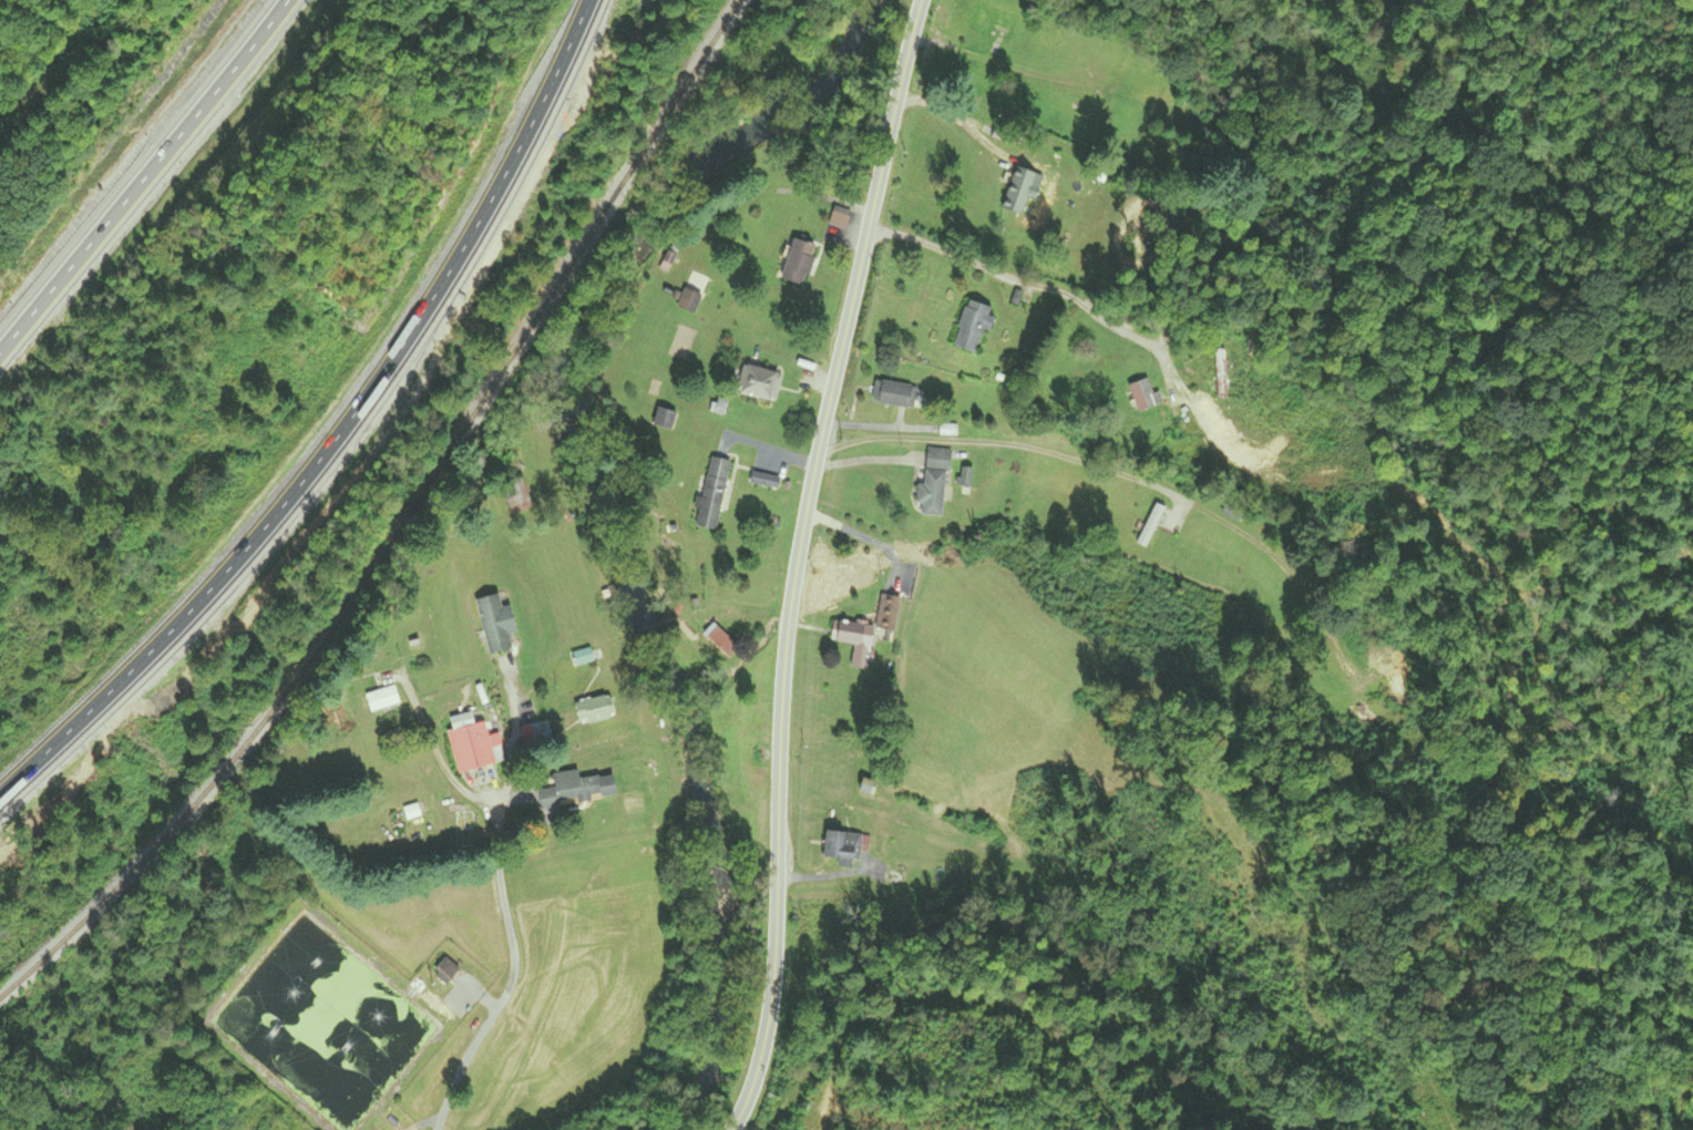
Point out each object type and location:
building: (994, 22)
road: (140, 171)
building: (1017, 192)
building: (798, 263)
building: (689, 301)
building: (971, 327)
building: (1220, 373)
building: (757, 383)
building: (890, 394)
building: (1143, 395)
building: (664, 419)
road: (341, 431)
road: (1004, 445)
building: (934, 481)
building: (711, 493)
building: (515, 494)
river: (597, 521)
railway: (403, 524)
building: (1149, 525)
road: (855, 536)
road: (792, 562)
building: (889, 614)
building: (492, 624)
building: (854, 641)
building: (721, 643)
building: (380, 700)
building: (593, 710)
building: (473, 744)
road: (435, 749)
building: (576, 790)
building: (411, 812)
building: (844, 845)
road: (503, 904)
building: (444, 972)

